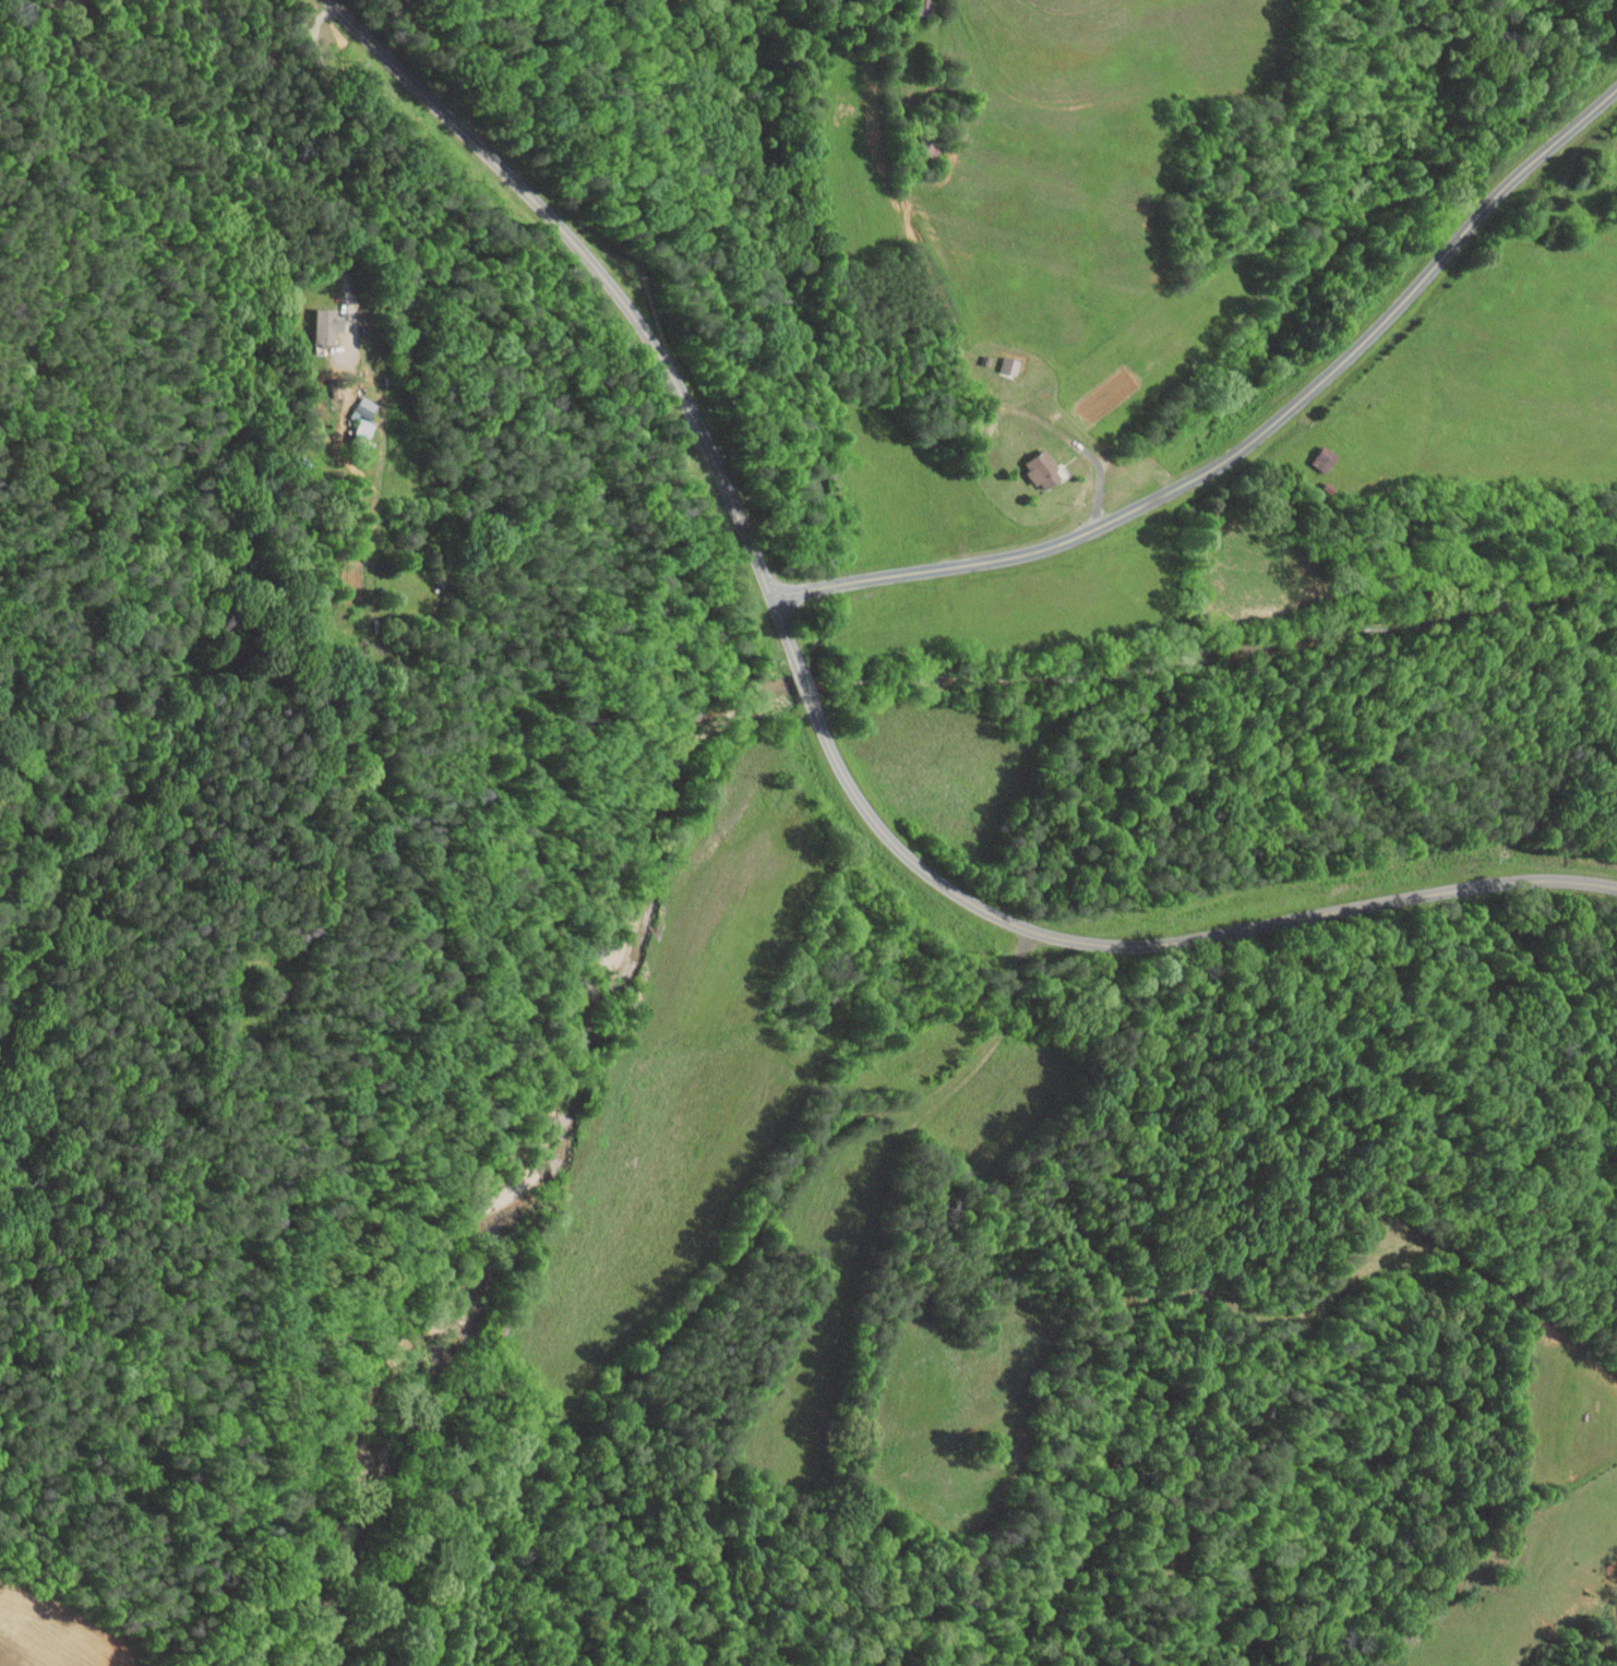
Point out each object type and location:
road: (334, 153)
road: (615, 296)
building: (327, 325)
building: (1010, 367)
building: (366, 407)
building: (363, 432)
road: (1248, 444)
building: (1325, 458)
building: (1043, 469)
road: (1101, 470)
road: (804, 681)
road: (1160, 943)

